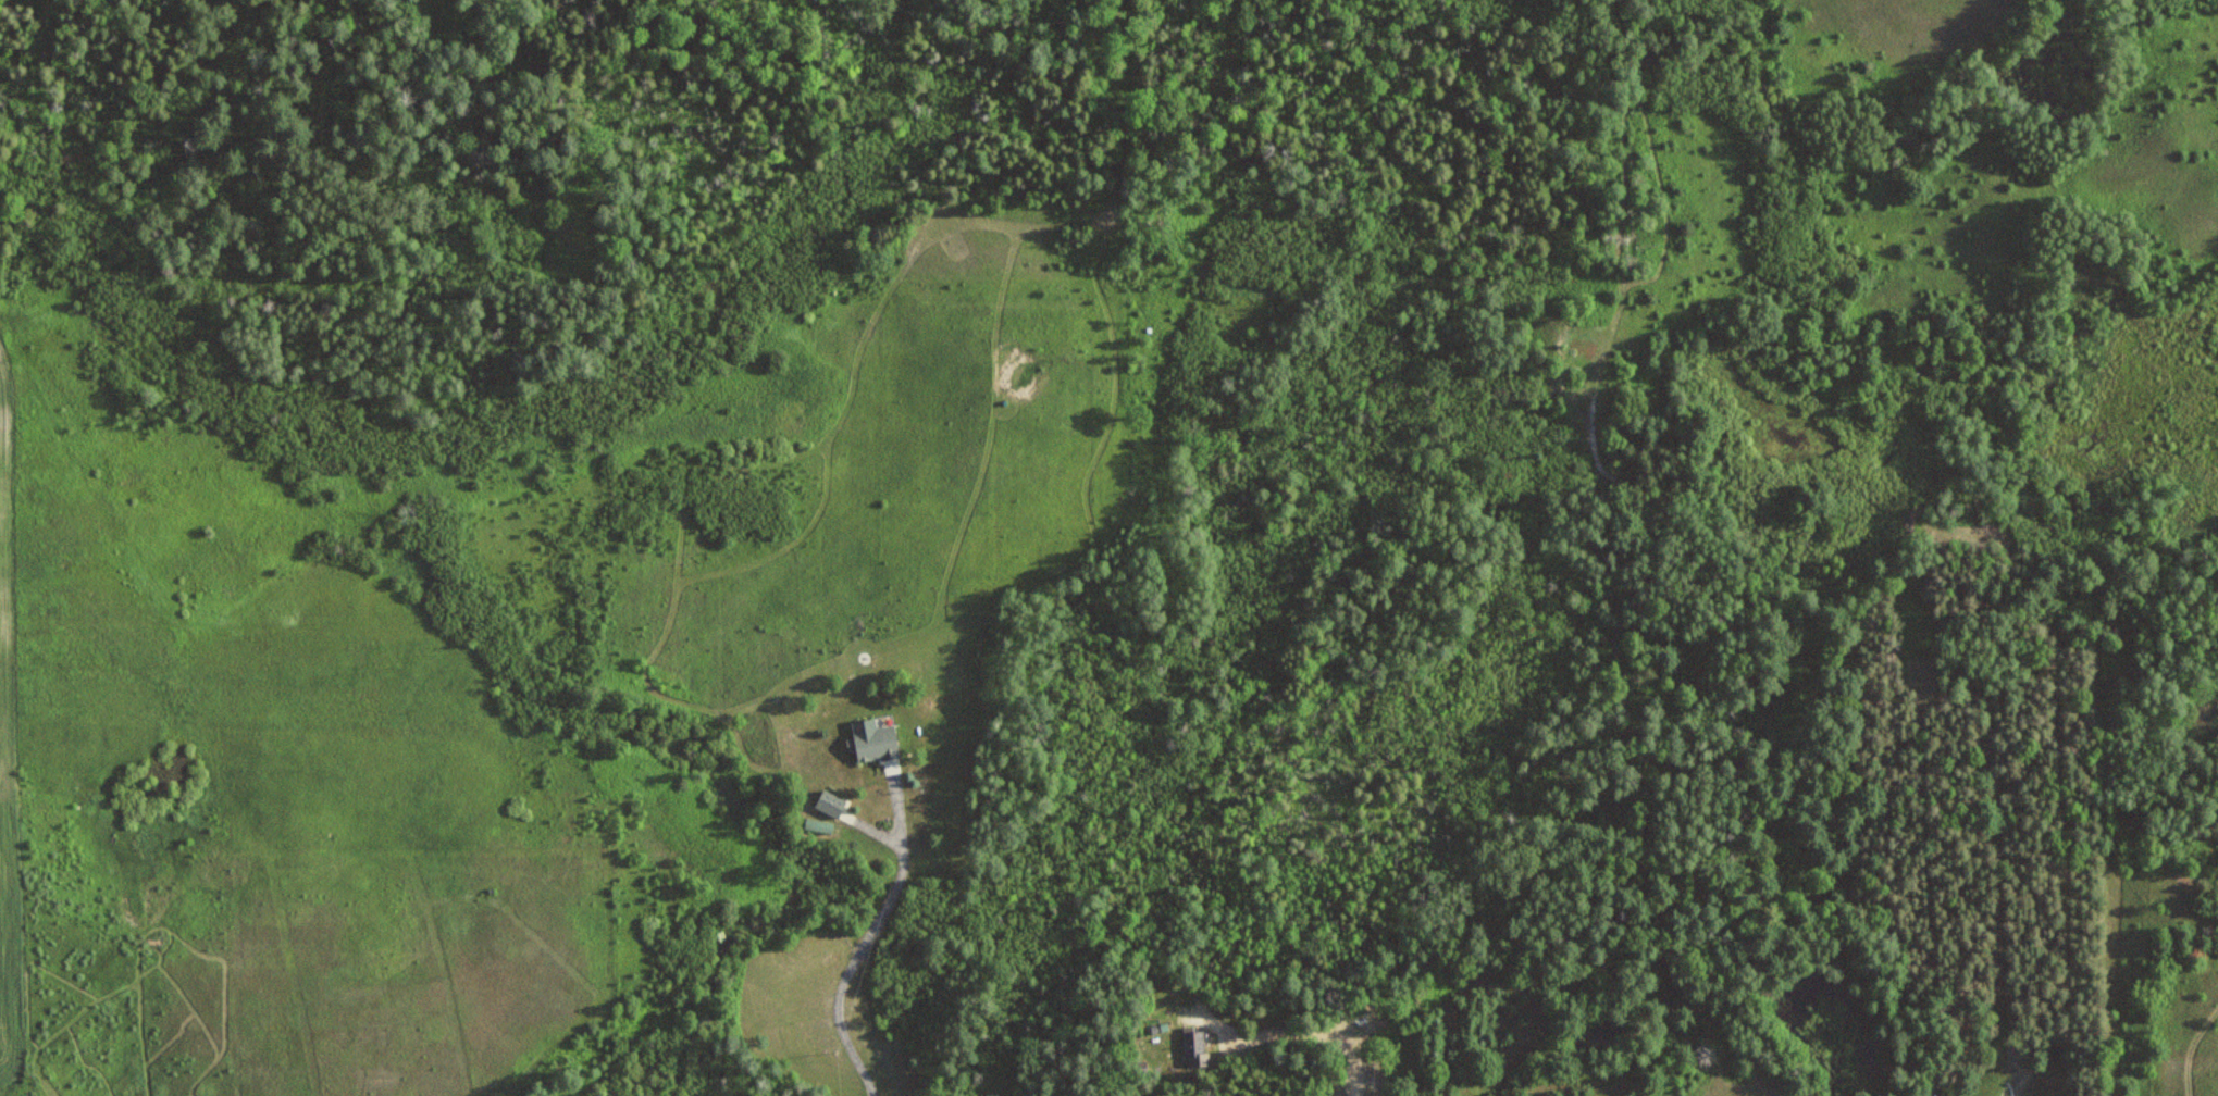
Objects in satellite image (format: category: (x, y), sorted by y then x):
building: (876, 742)
building: (831, 804)
road: (1327, 1034)
building: (1195, 1048)

